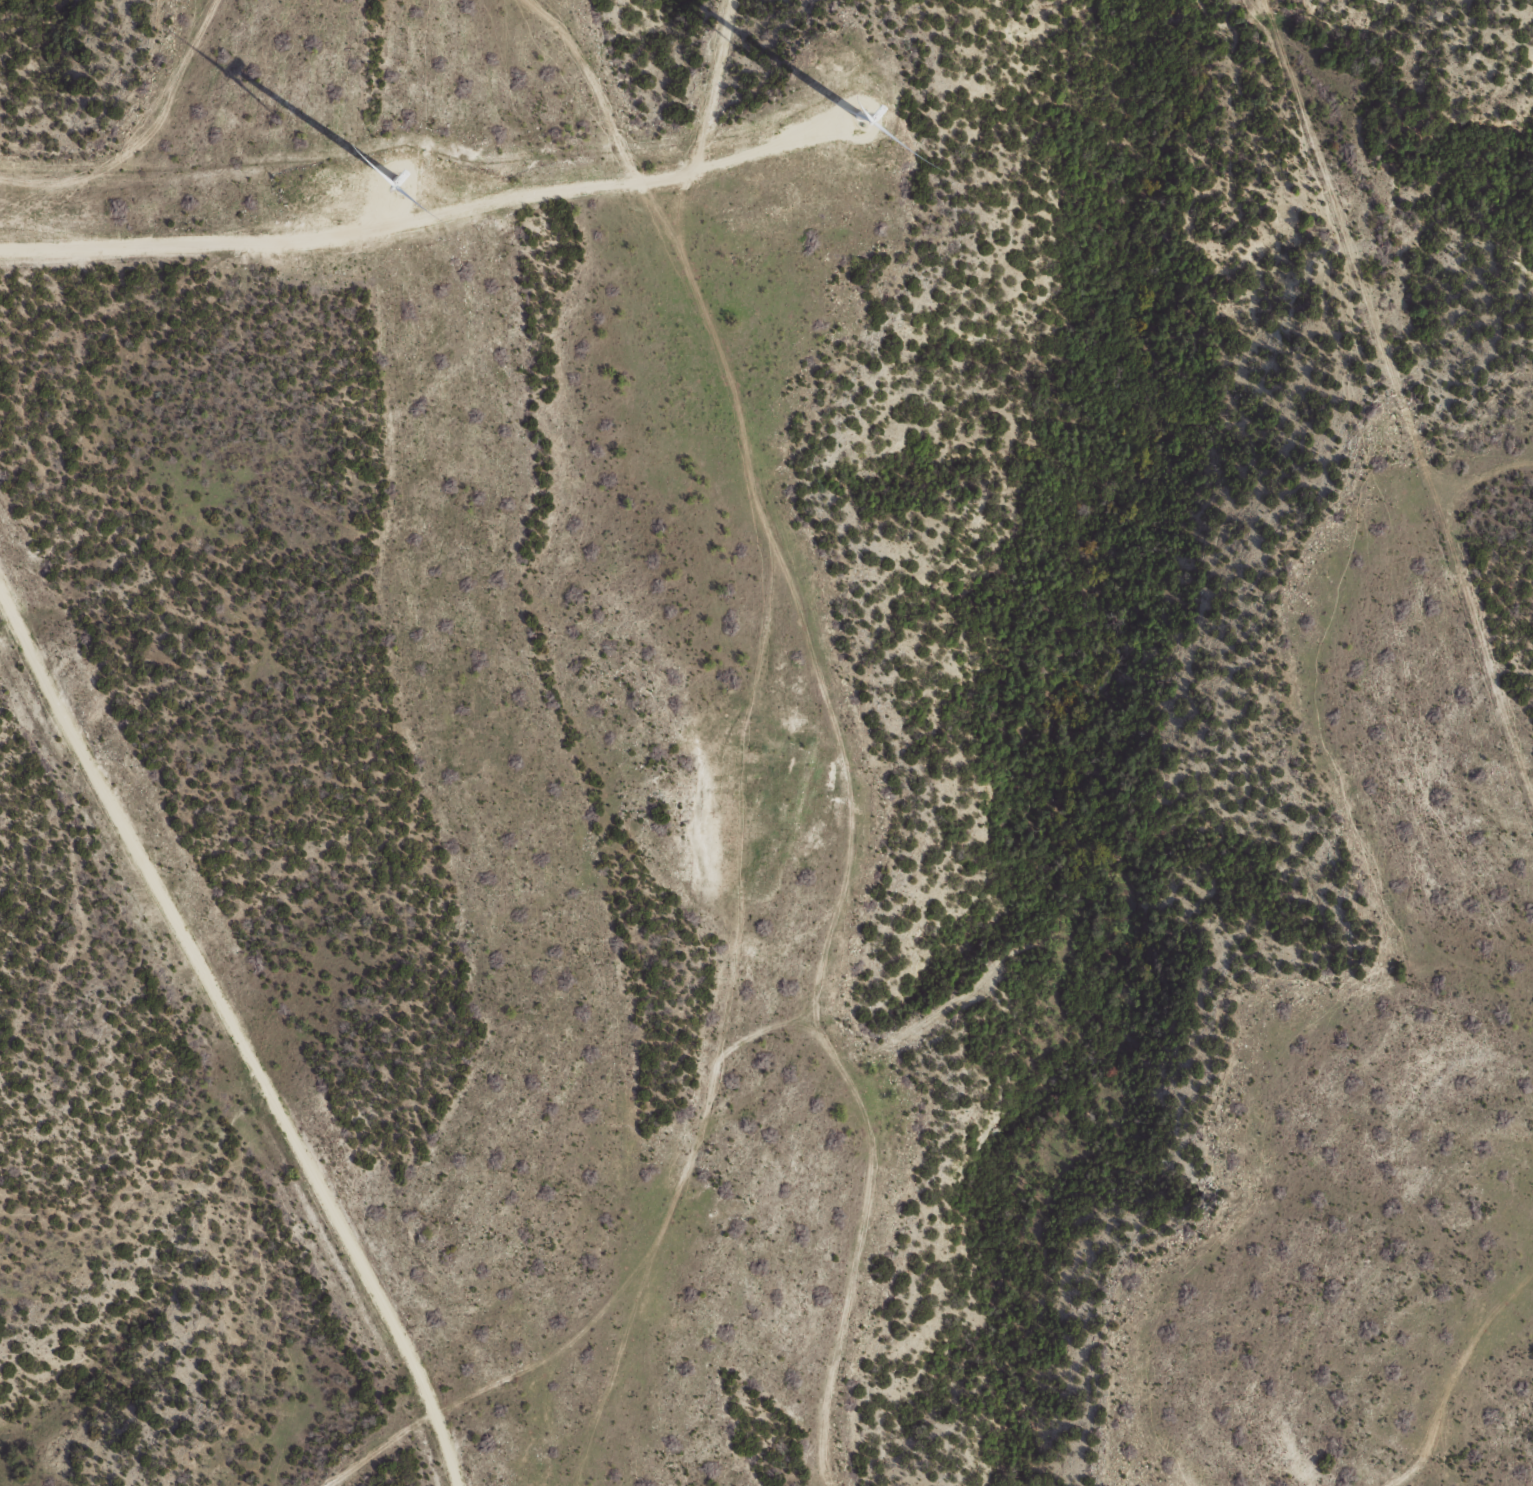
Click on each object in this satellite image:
road: (138, 121)
wind turbine: (866, 123)
road: (536, 135)
wind turbine: (392, 171)
road: (491, 771)
road: (1472, 1365)
road: (593, 1411)

